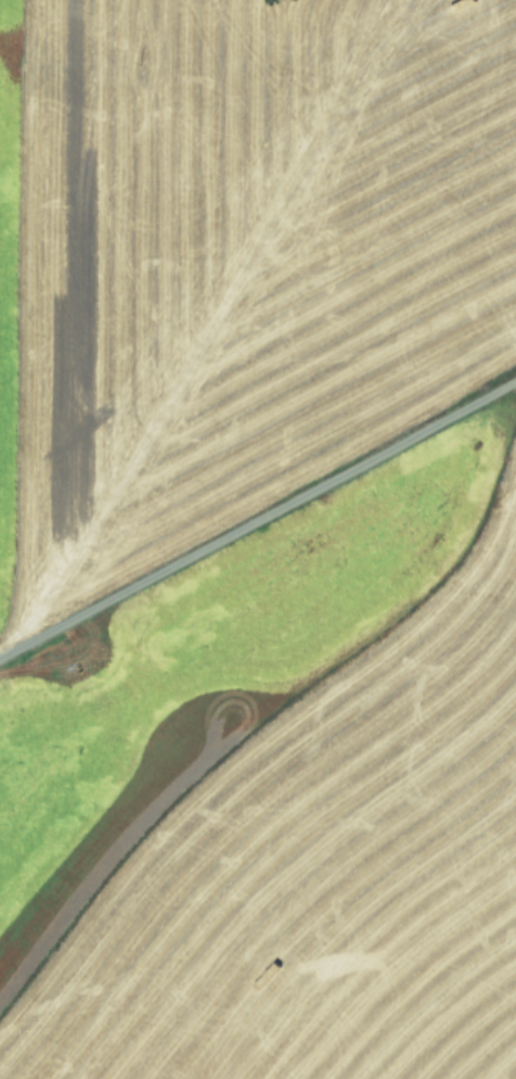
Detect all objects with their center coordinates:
road: (257, 521)
crop: (258, 539)

